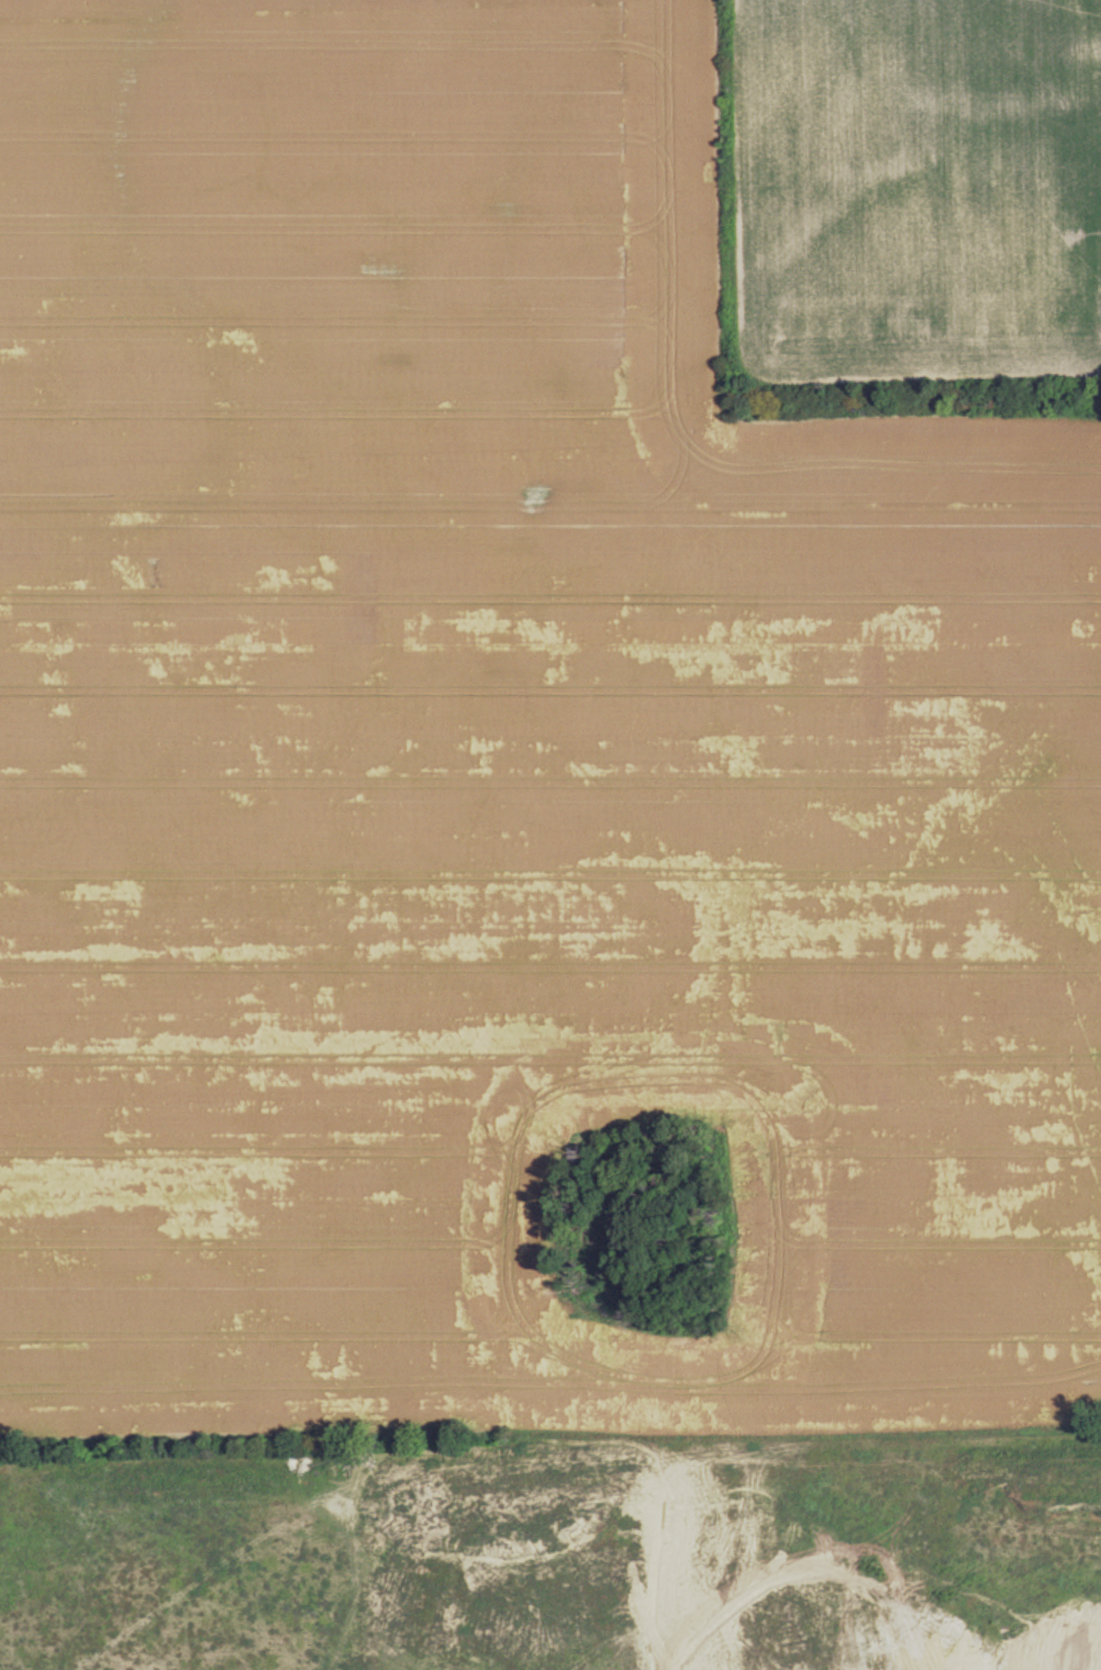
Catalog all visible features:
road: (860, 1424)

